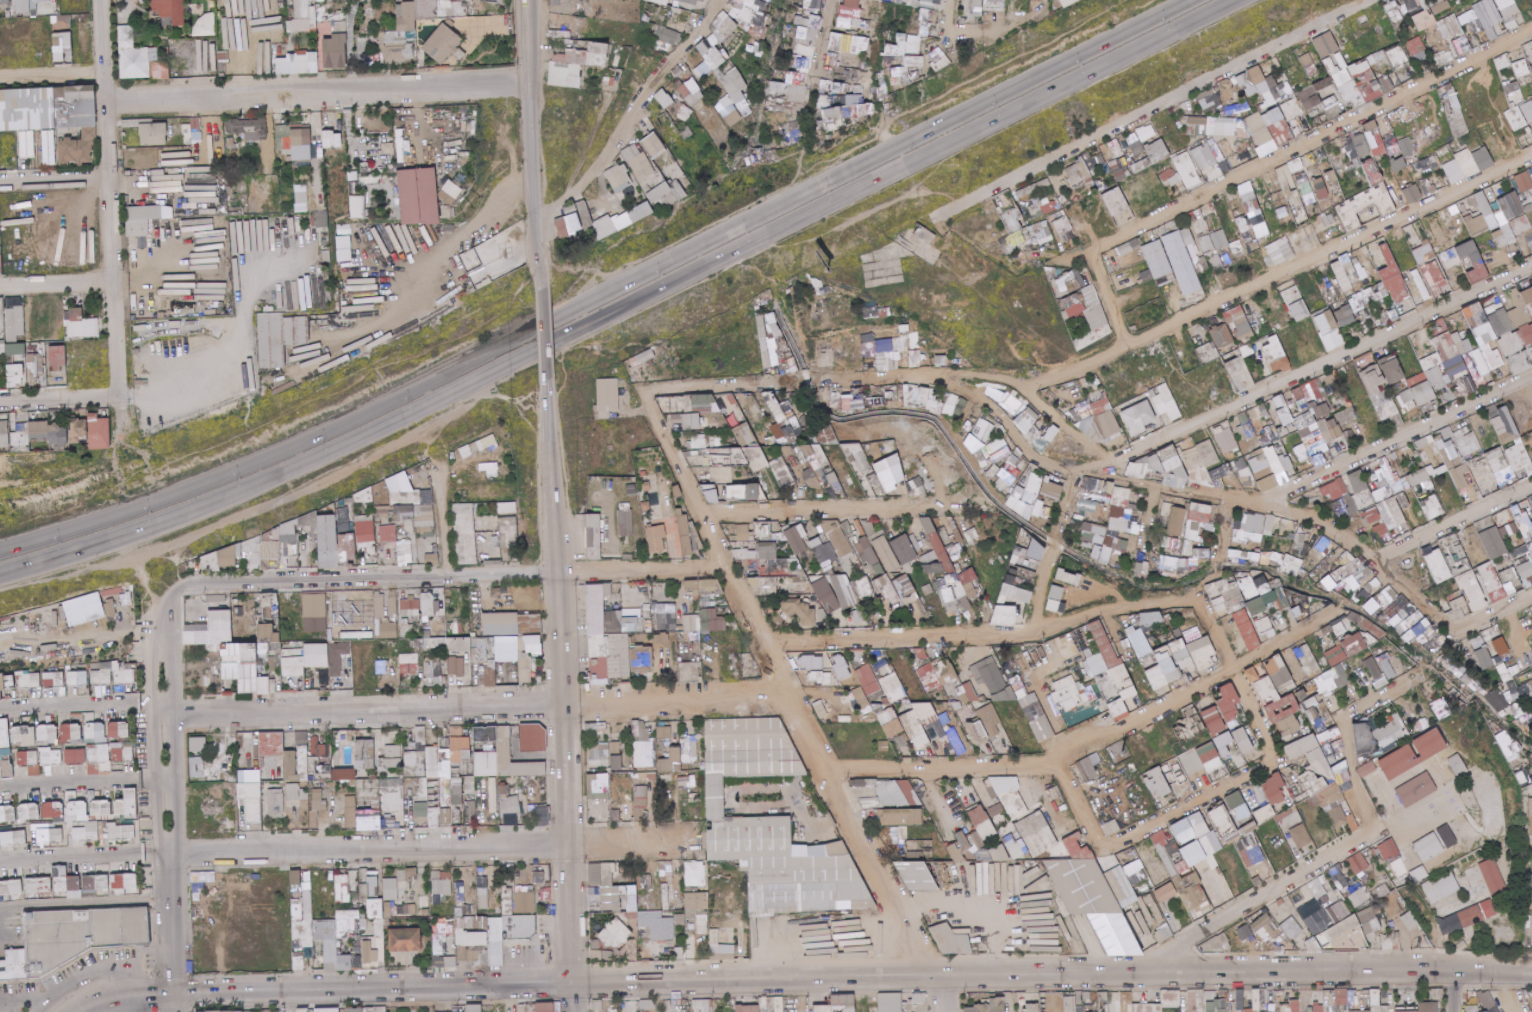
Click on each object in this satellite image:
road: (532, 143)

